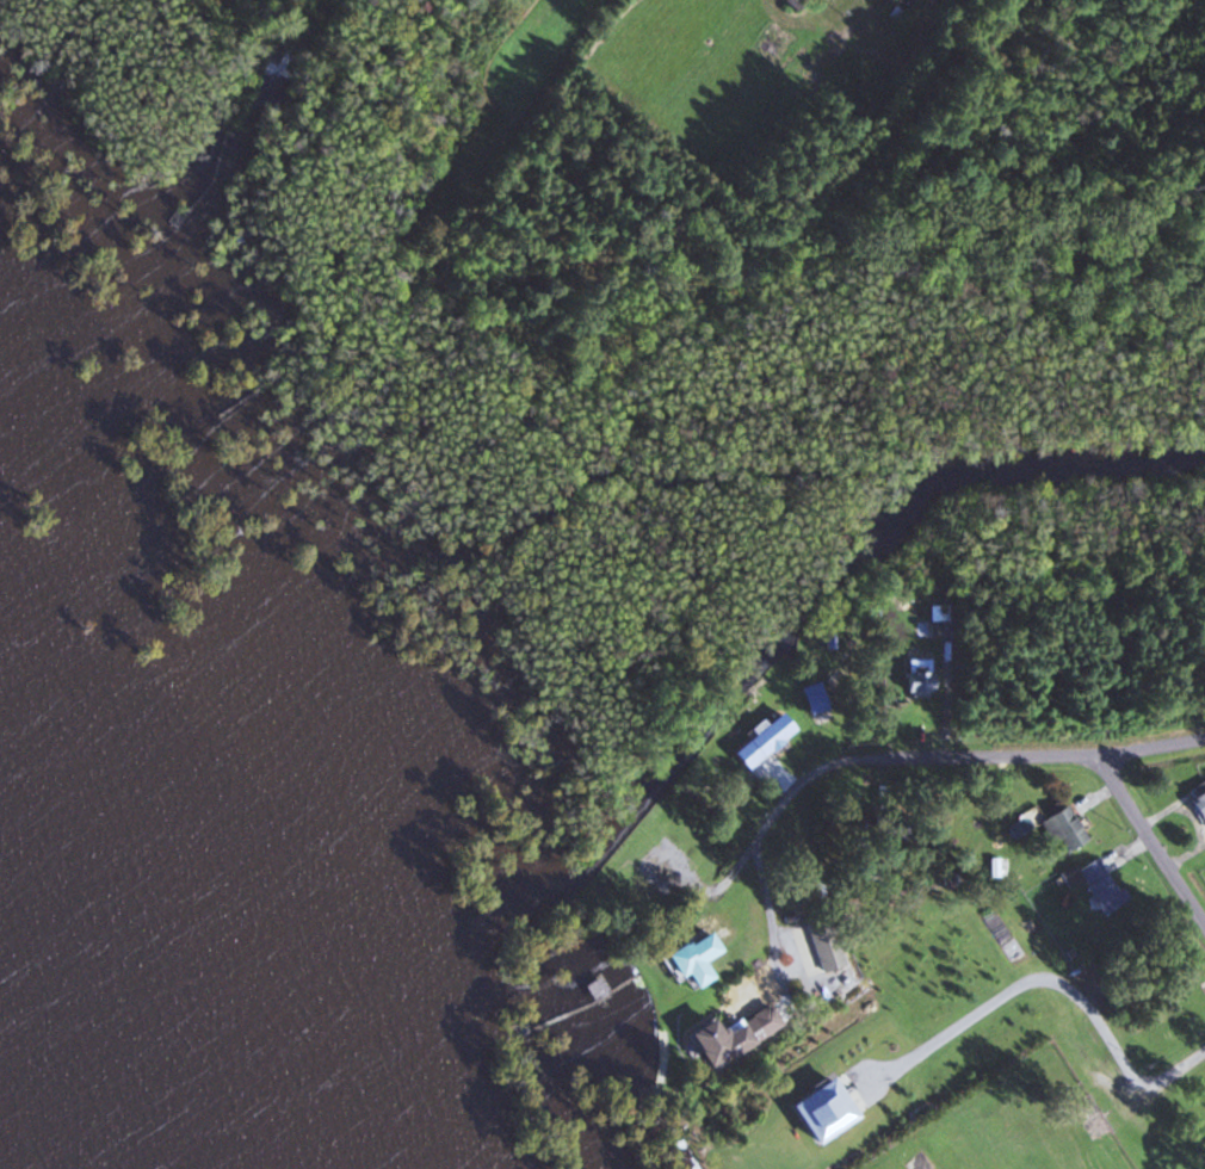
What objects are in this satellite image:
wastewater plant: (816, 5)
building: (773, 741)
road: (890, 766)
road: (927, 790)
building: (1197, 802)
building: (1059, 828)
road: (1158, 865)
building: (1095, 884)
building: (705, 960)
building: (826, 967)
road: (749, 972)
road: (1052, 991)
building: (731, 1043)

